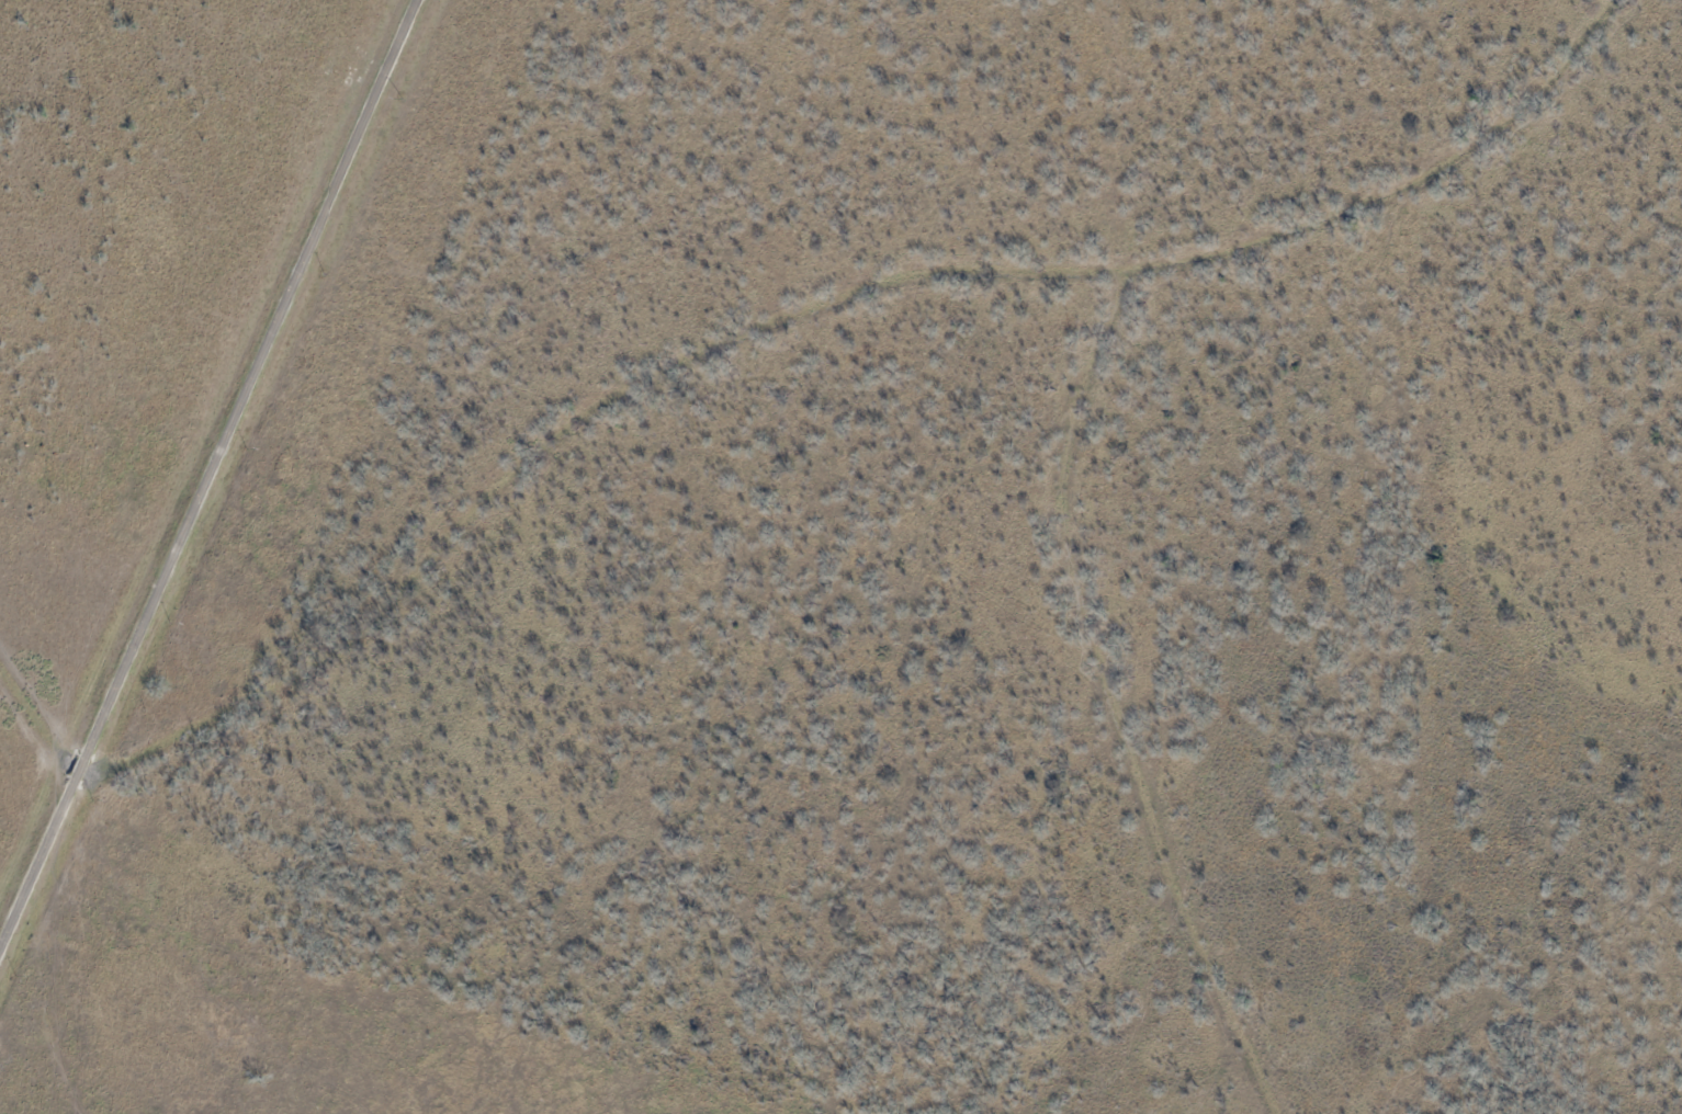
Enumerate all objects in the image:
road: (206, 466)

